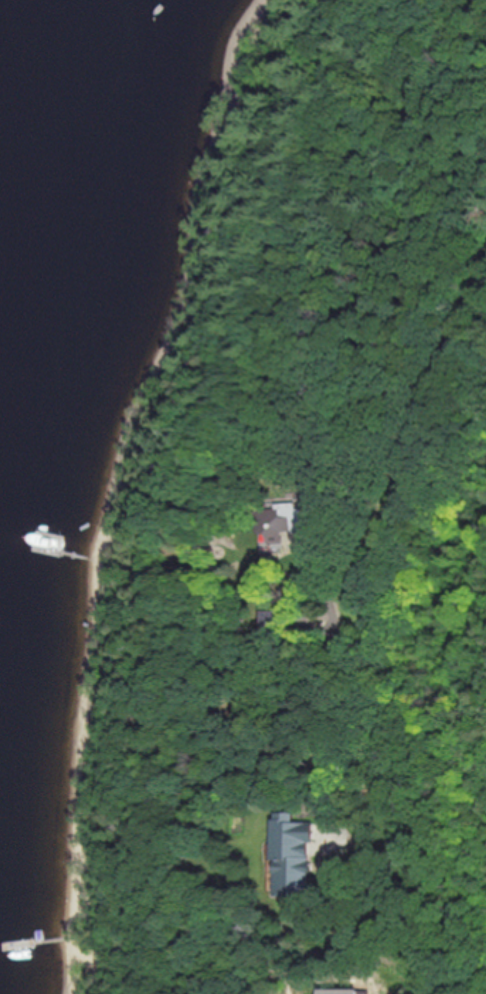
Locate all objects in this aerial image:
building: (276, 524)
road: (379, 759)
building: (293, 857)
road: (394, 916)

